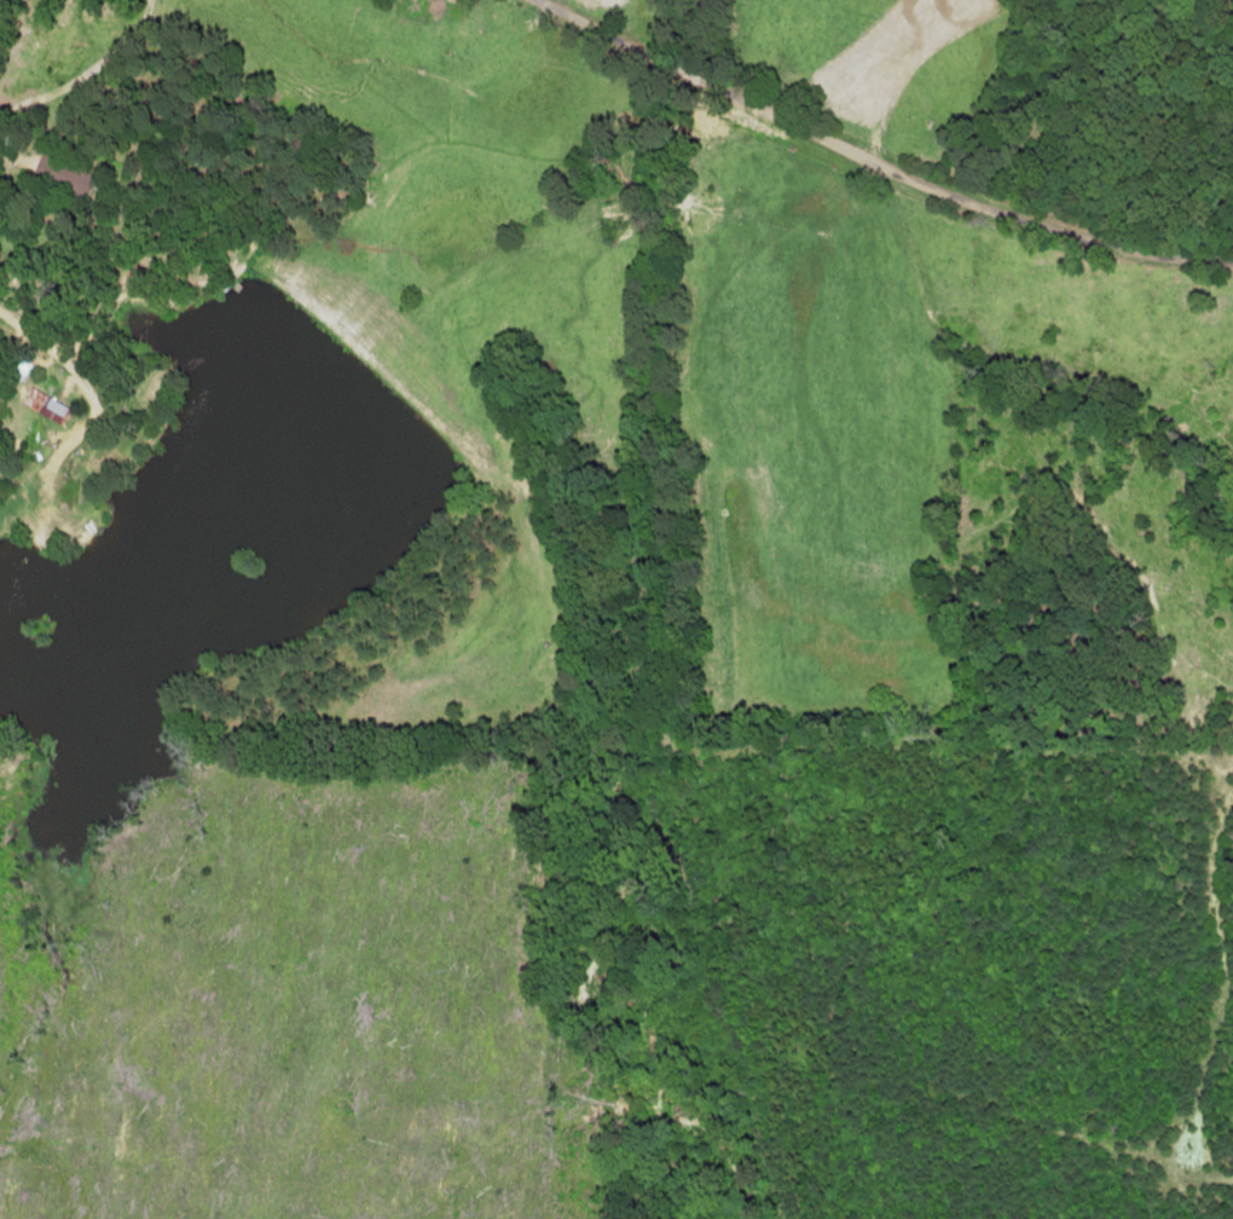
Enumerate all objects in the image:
road: (864, 157)
building: (68, 177)
building: (50, 404)

